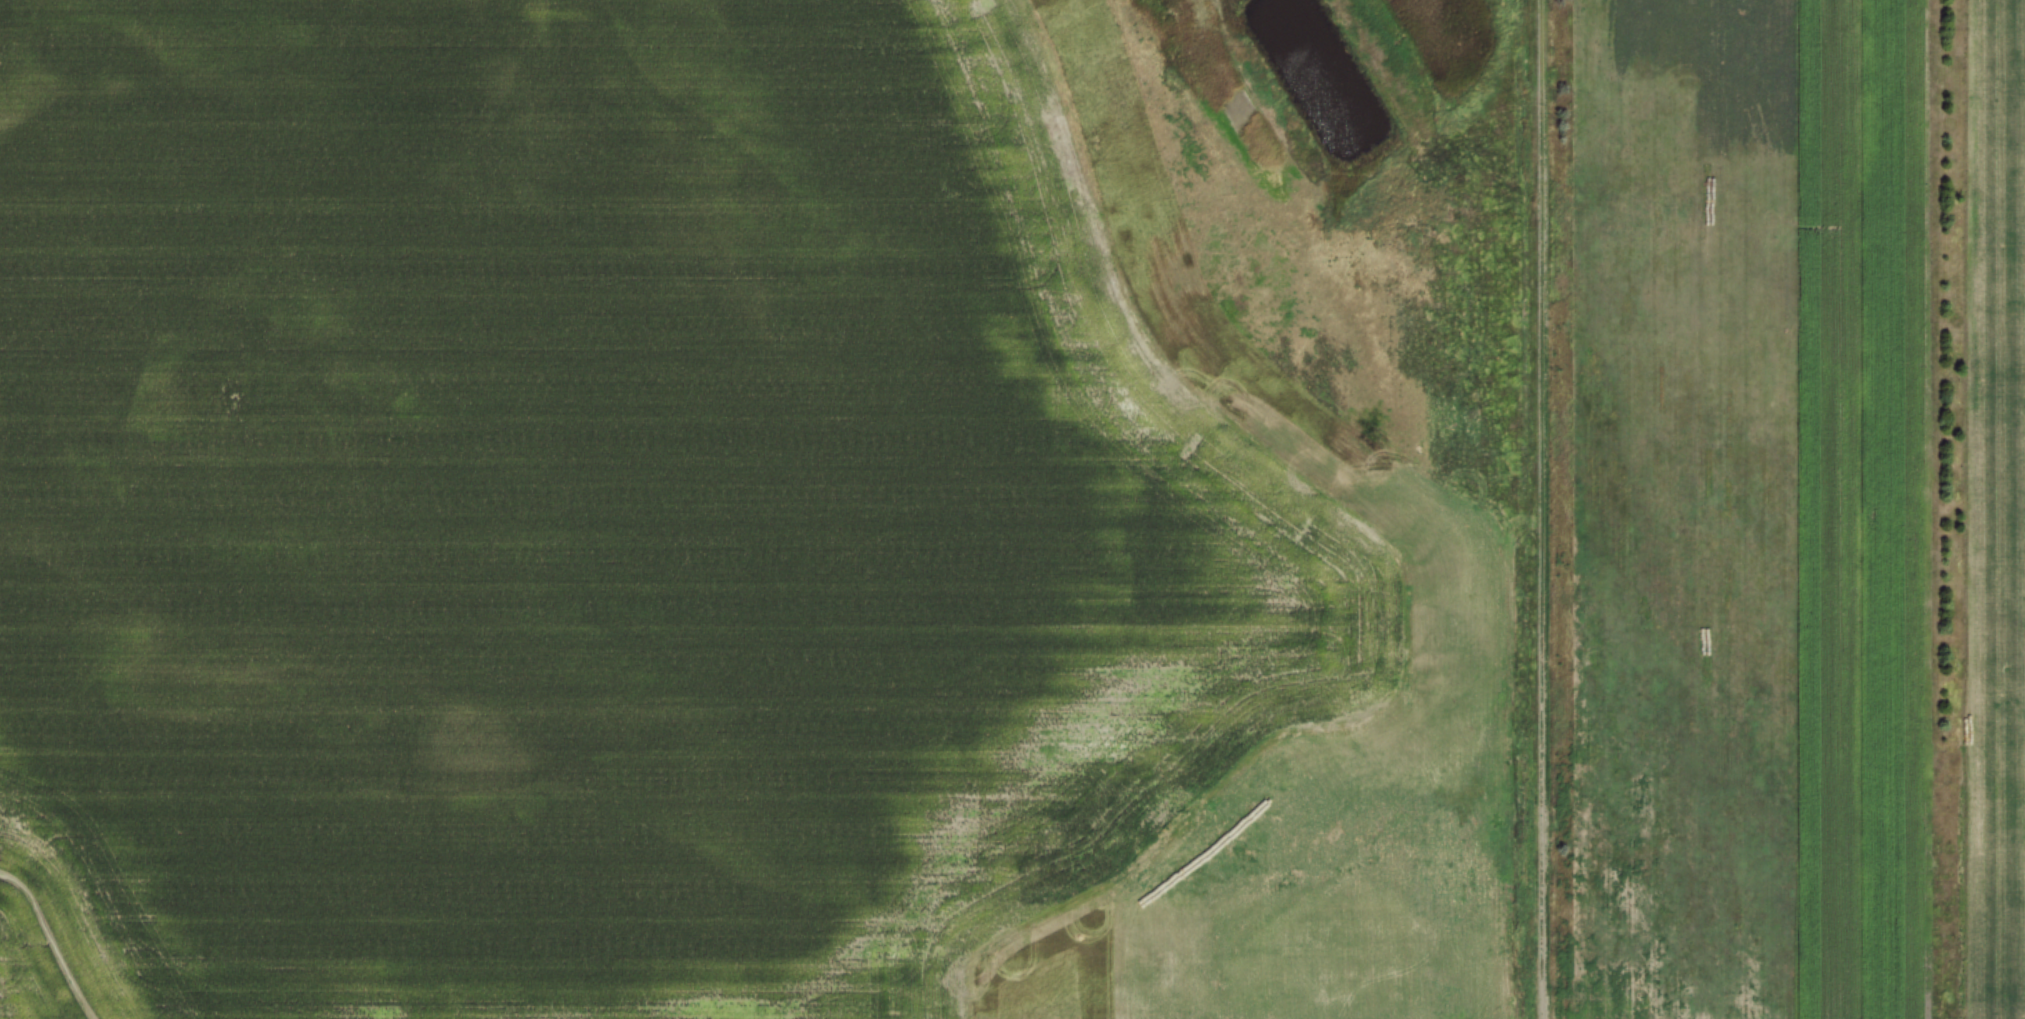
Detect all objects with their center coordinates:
road: (1543, 509)

